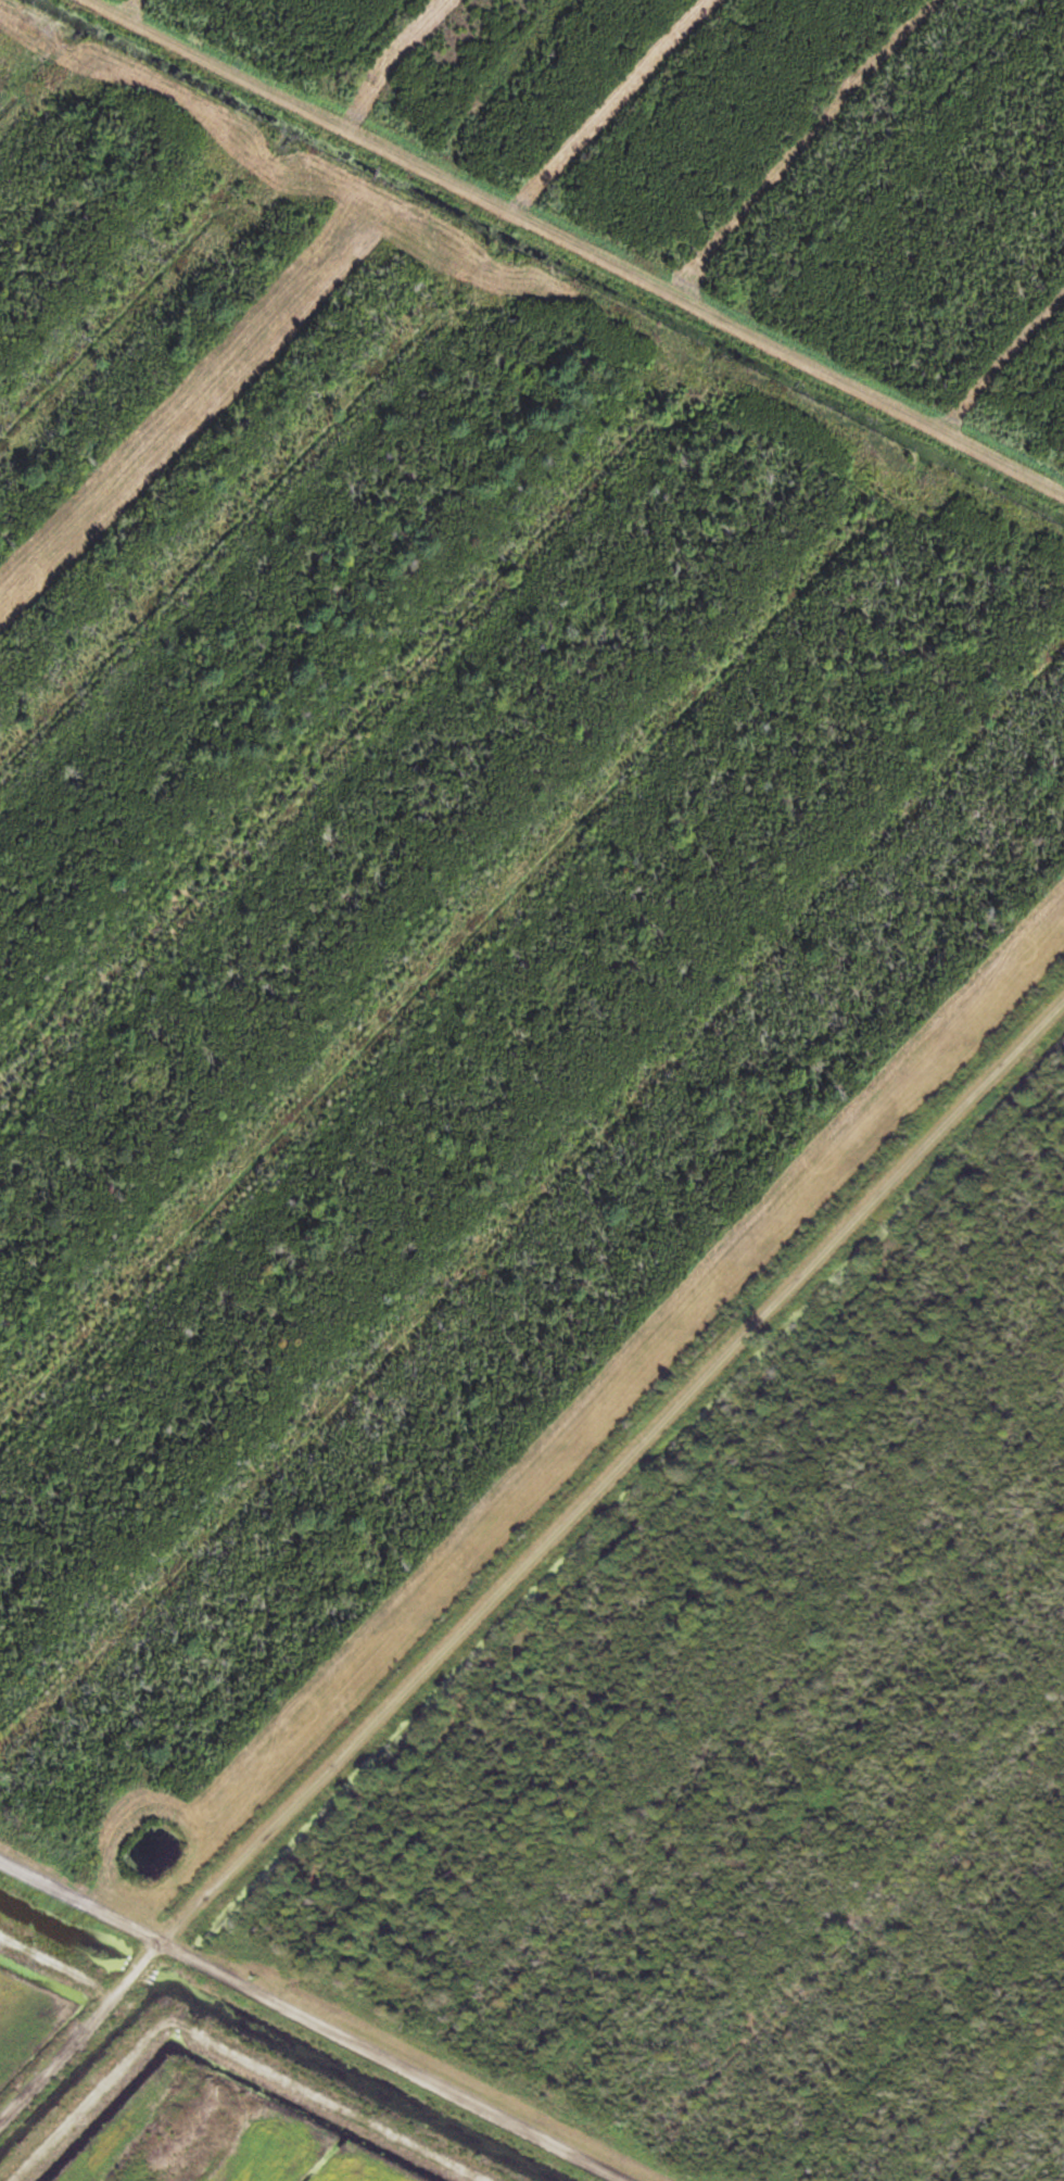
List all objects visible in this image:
road: (588, 241)
road: (540, 1565)
road: (307, 2021)

